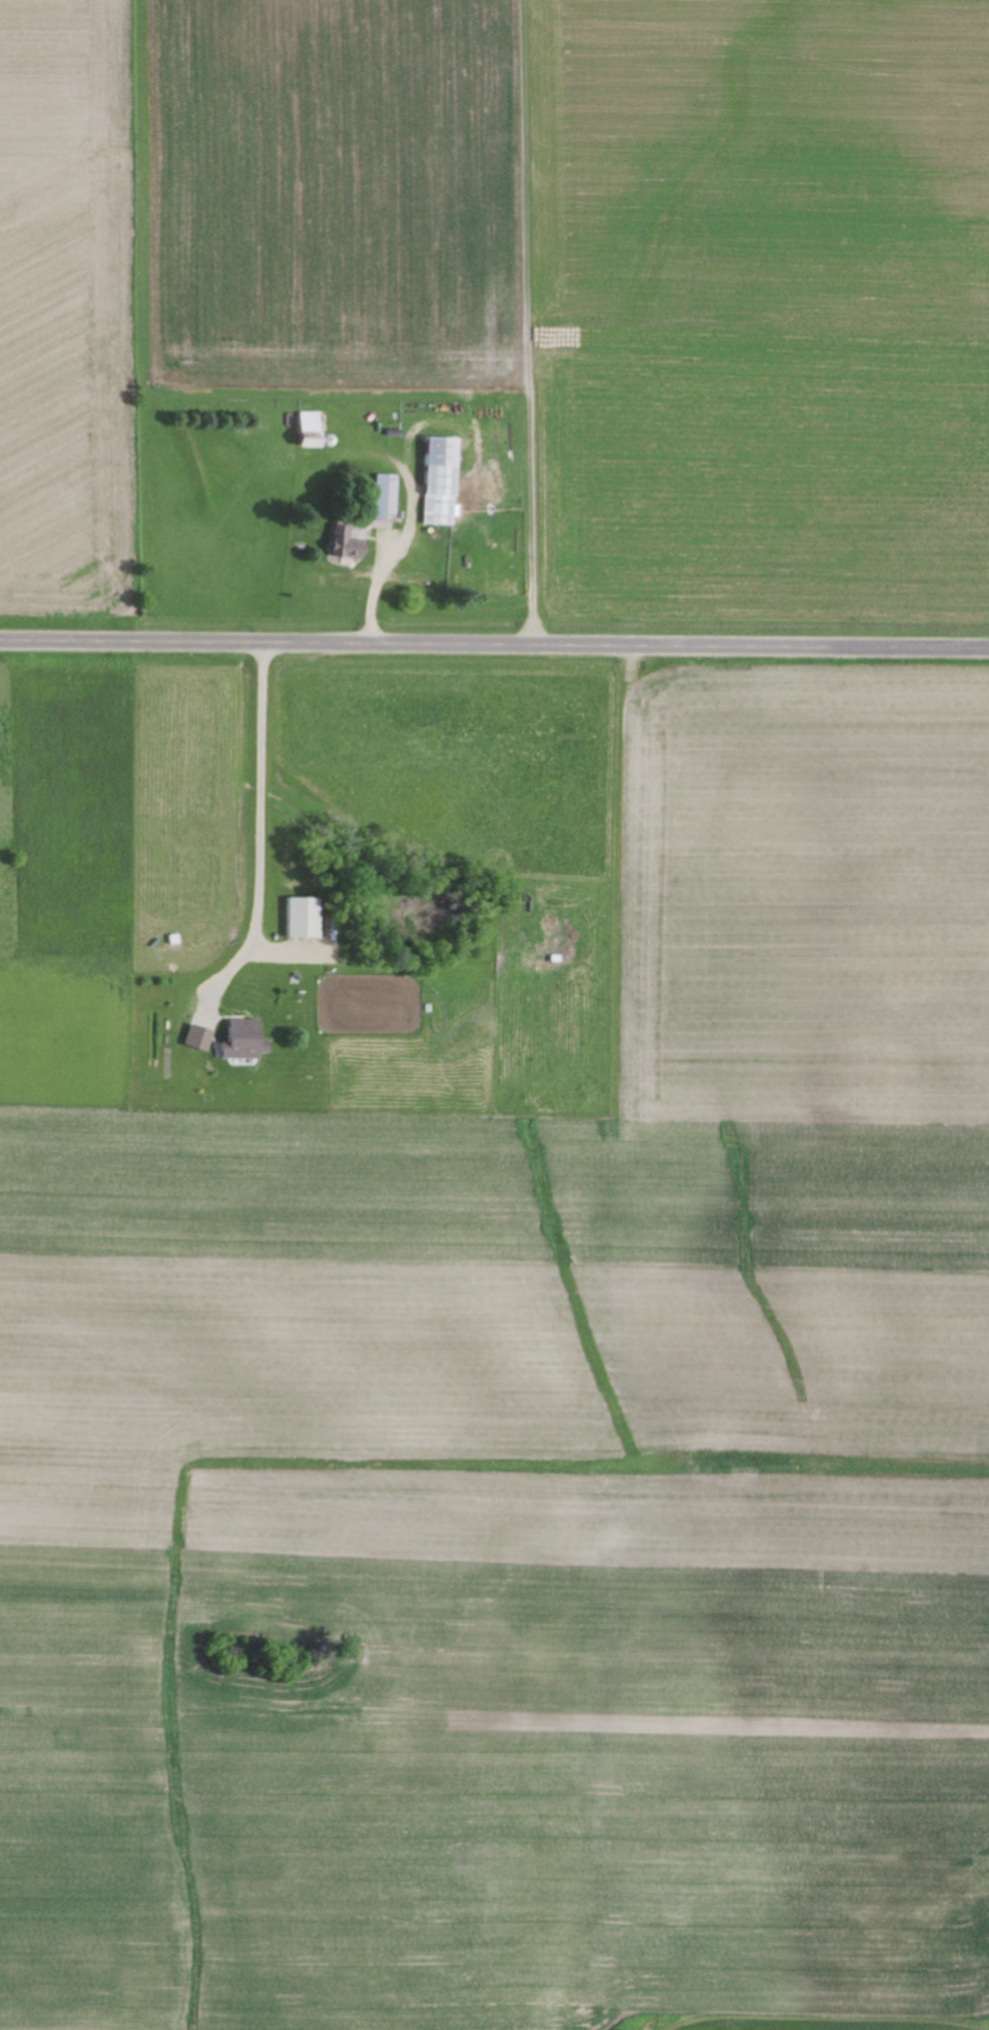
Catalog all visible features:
building: (312, 425)
building: (443, 482)
building: (386, 498)
road: (494, 649)
building: (307, 919)
building: (249, 1040)

